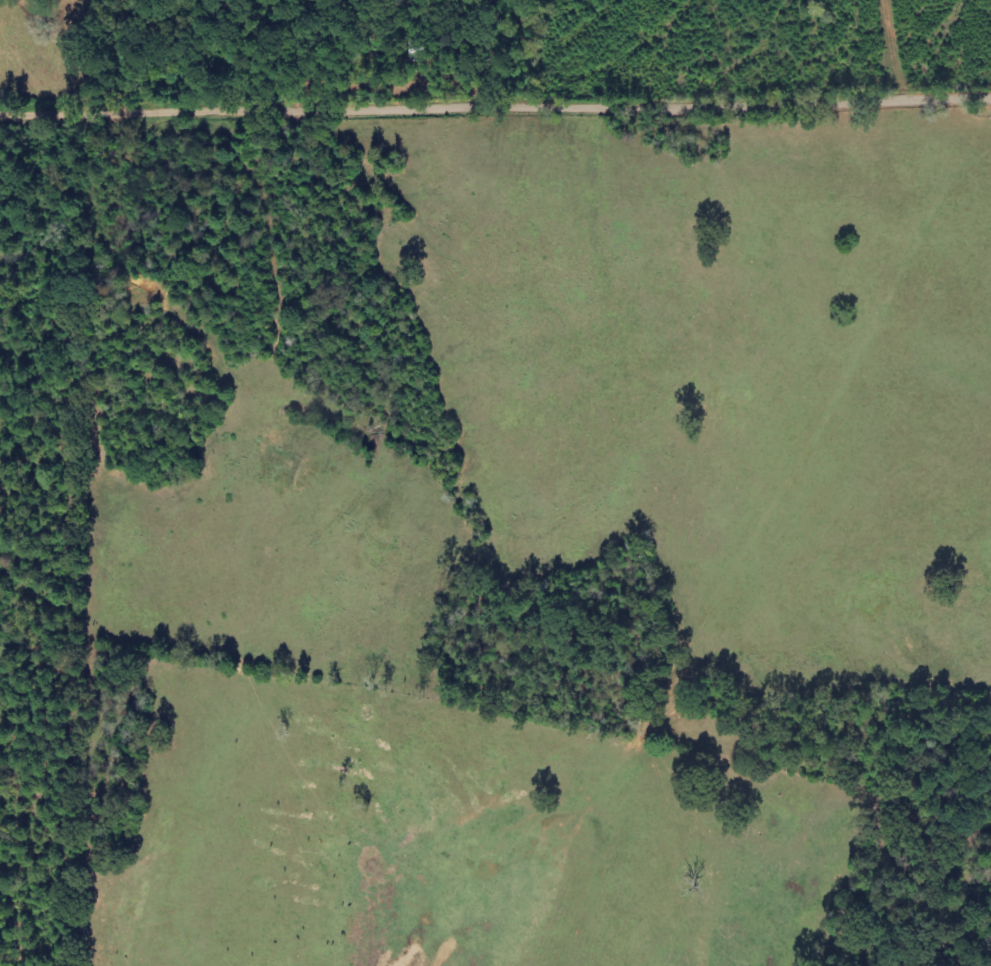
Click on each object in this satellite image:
road: (495, 140)

